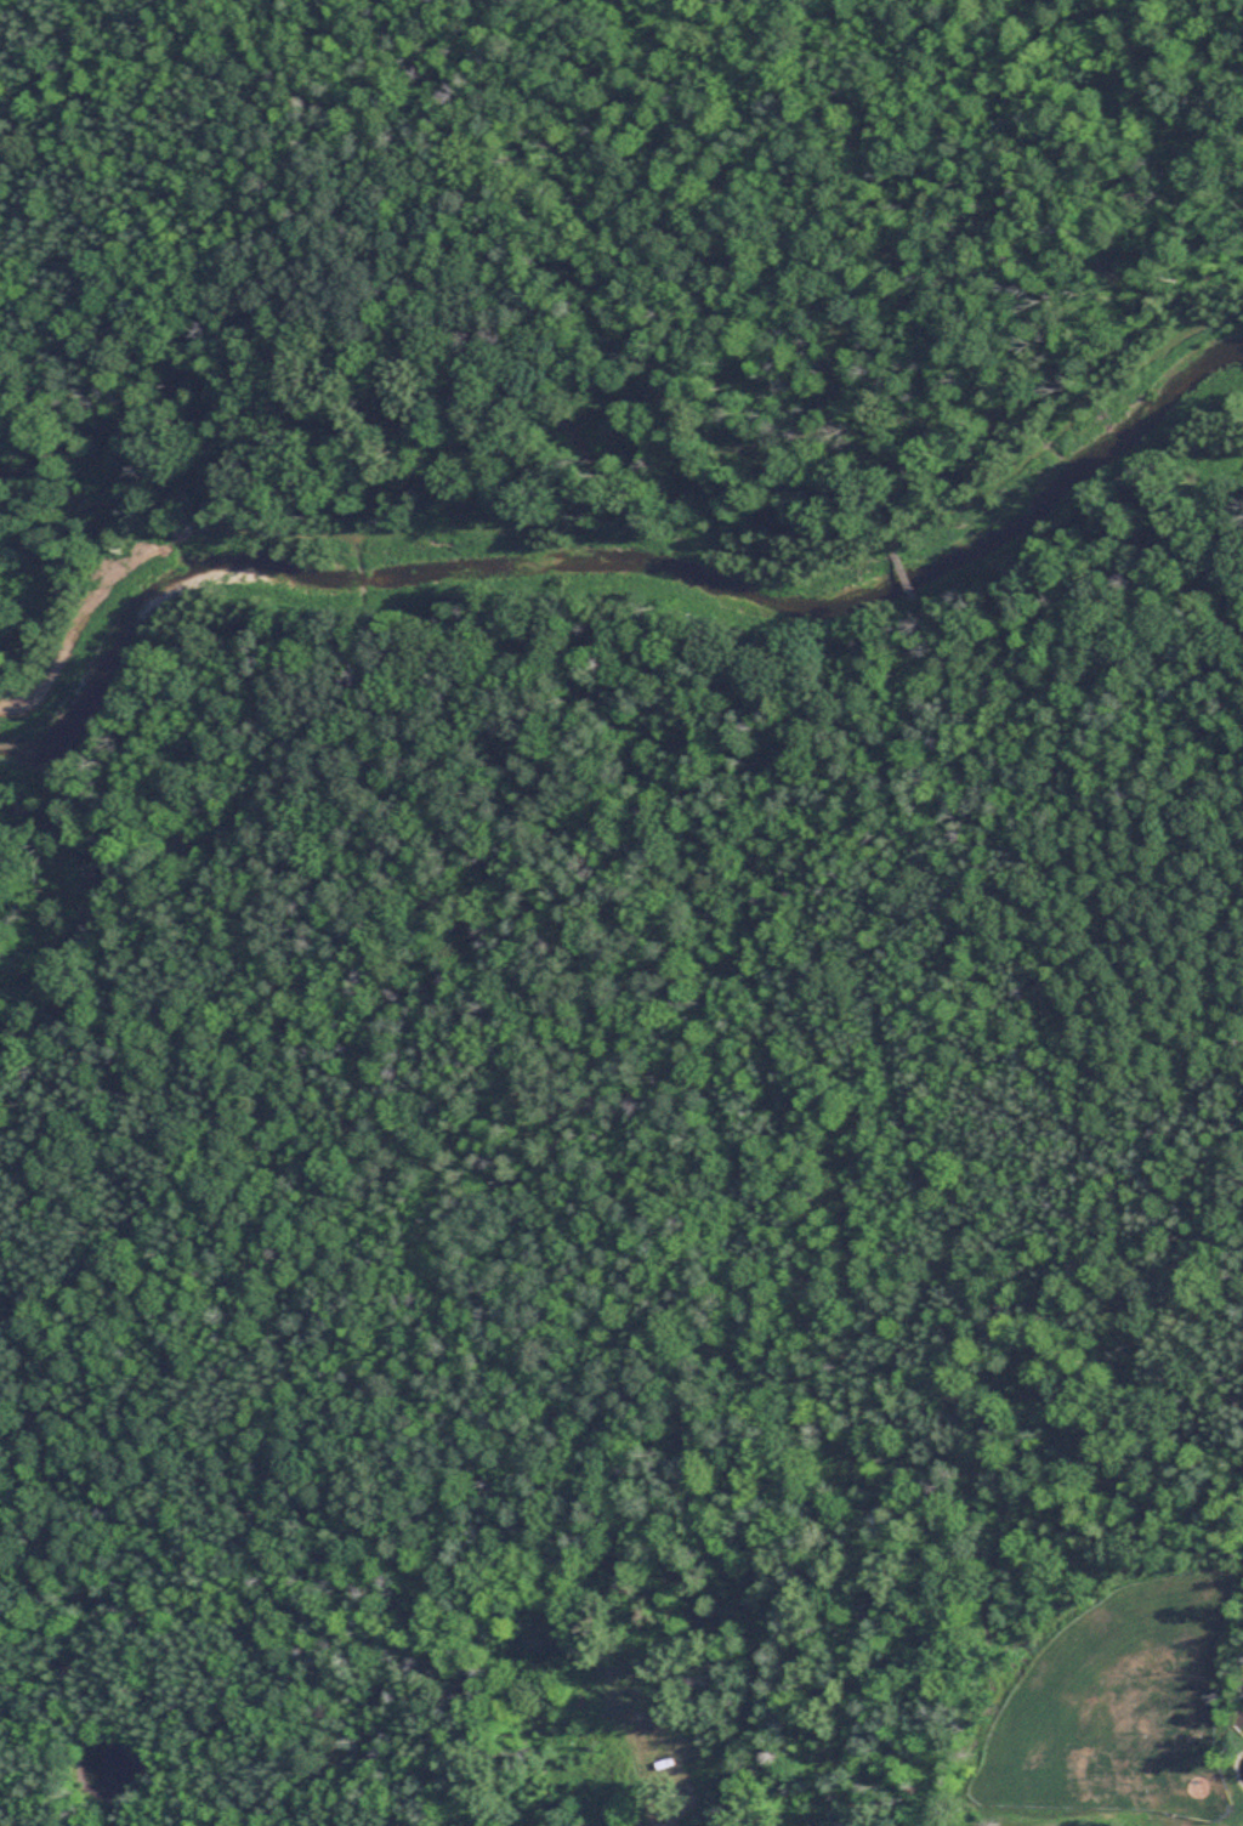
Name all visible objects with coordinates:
road: (902, 575)

